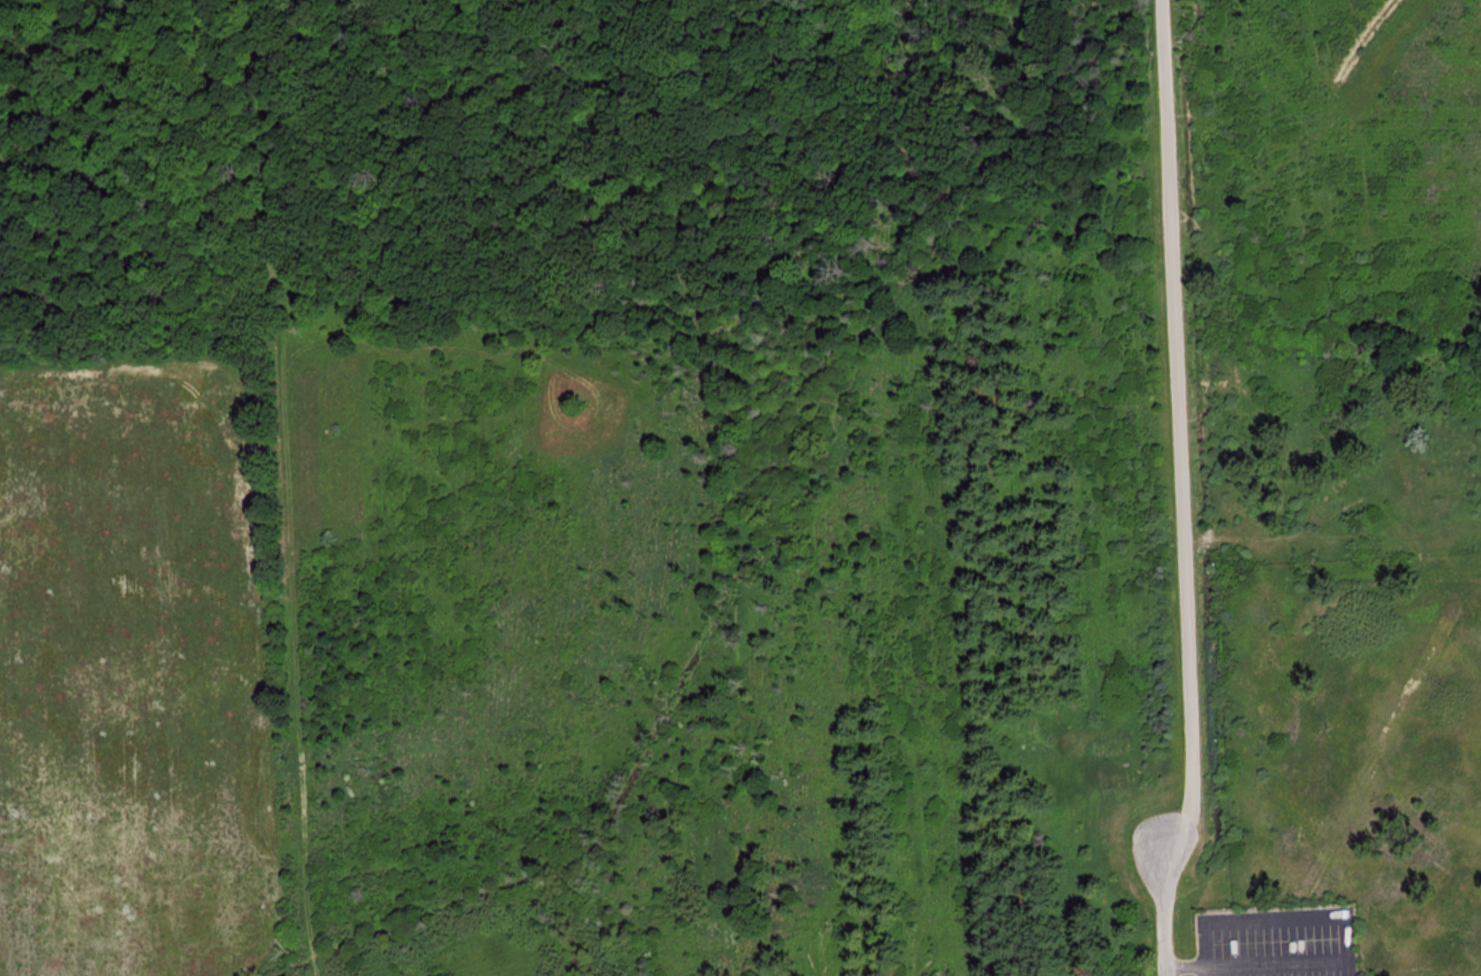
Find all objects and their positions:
road: (1180, 410)
road: (1163, 896)
road: (1271, 921)
parking lot: (1280, 941)
road: (1263, 964)

